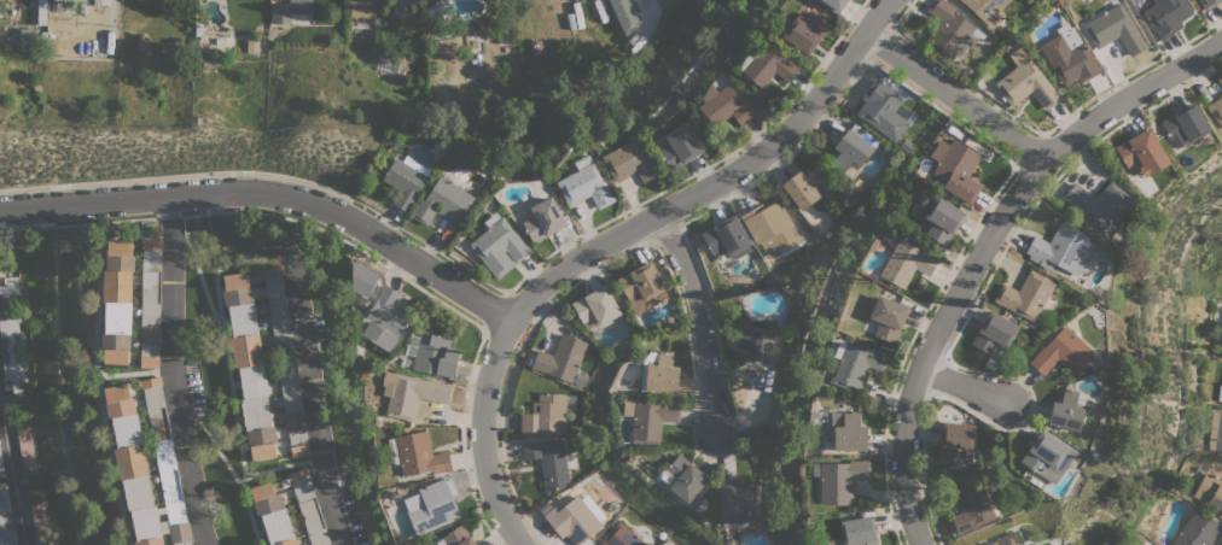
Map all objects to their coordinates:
building: (834, 4)
building: (1209, 4)
building: (362, 8)
building: (987, 10)
building: (298, 11)
building: (41, 12)
building: (280, 13)
building: (441, 13)
building: (1165, 14)
building: (624, 16)
building: (1115, 27)
building: (949, 29)
building: (802, 30)
building: (25, 39)
building: (535, 48)
building: (1069, 57)
building: (766, 65)
building: (1220, 80)
building: (1026, 82)
road: (955, 96)
building: (723, 106)
building: (884, 110)
building: (1216, 110)
building: (1185, 124)
building: (680, 147)
building: (1141, 151)
building: (850, 153)
building: (630, 162)
building: (956, 169)
building: (406, 180)
building: (584, 184)
building: (804, 187)
road: (268, 195)
building: (443, 201)
building: (1099, 204)
building: (939, 217)
building: (542, 219)
building: (770, 228)
building: (727, 238)
road: (621, 242)
building: (499, 246)
building: (1060, 248)
road: (994, 250)
building: (906, 263)
building: (0, 264)
building: (362, 279)
building: (642, 287)
building: (1025, 295)
building: (117, 303)
building: (151, 303)
building: (595, 306)
building: (888, 317)
building: (384, 320)
road: (173, 321)
road: (699, 322)
building: (994, 332)
building: (11, 341)
road: (303, 342)
building: (753, 342)
building: (1064, 353)
building: (435, 354)
building: (561, 358)
building: (285, 361)
building: (855, 364)
building: (249, 365)
building: (662, 373)
road: (968, 389)
building: (1220, 392)
building: (414, 394)
building: (1065, 410)
building: (547, 414)
building: (648, 417)
building: (845, 430)
building: (1215, 430)
building: (956, 441)
building: (25, 445)
building: (417, 455)
building: (1047, 456)
building: (549, 462)
building: (130, 464)
building: (1, 465)
road: (14, 471)
building: (683, 479)
building: (840, 480)
building: (1211, 487)
road: (194, 496)
building: (739, 504)
building: (432, 505)
building: (309, 506)
building: (971, 506)
building: (273, 515)
building: (6, 518)
building: (572, 520)
building: (40, 523)
building: (1198, 529)
building: (856, 532)
building: (456, 537)
building: (621, 537)
building: (993, 543)

